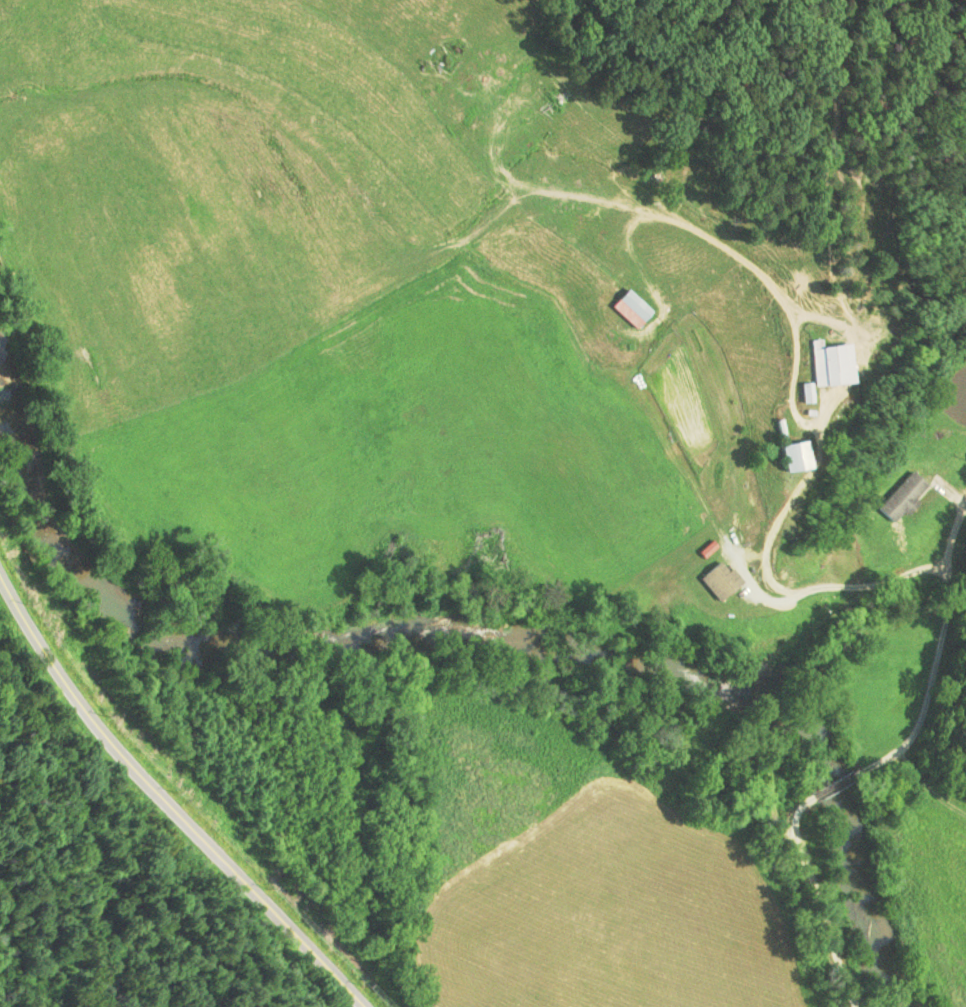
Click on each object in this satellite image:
building: (629, 308)
building: (791, 455)
road: (958, 546)
road: (945, 569)
building: (718, 580)
river: (510, 638)
road: (829, 782)
road: (172, 801)
road: (808, 898)

